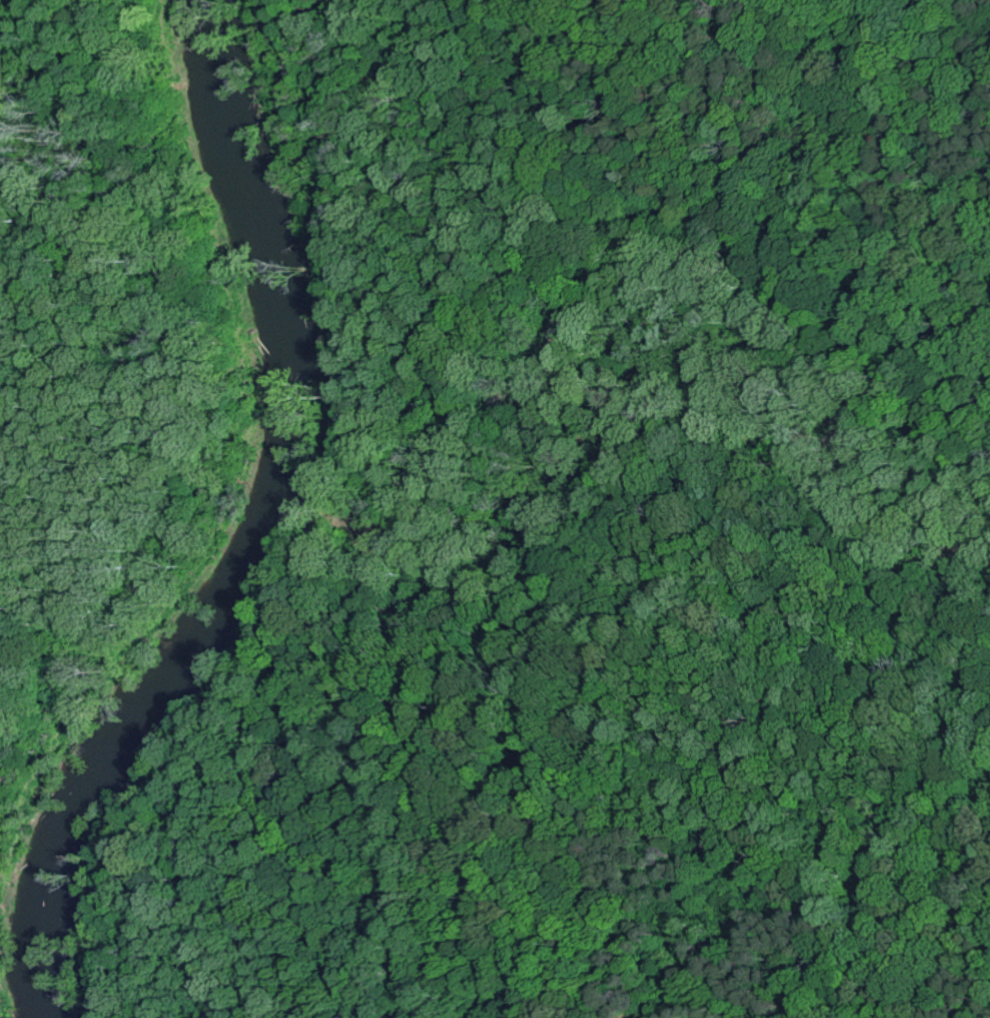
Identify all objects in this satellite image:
river: (260, 532)

